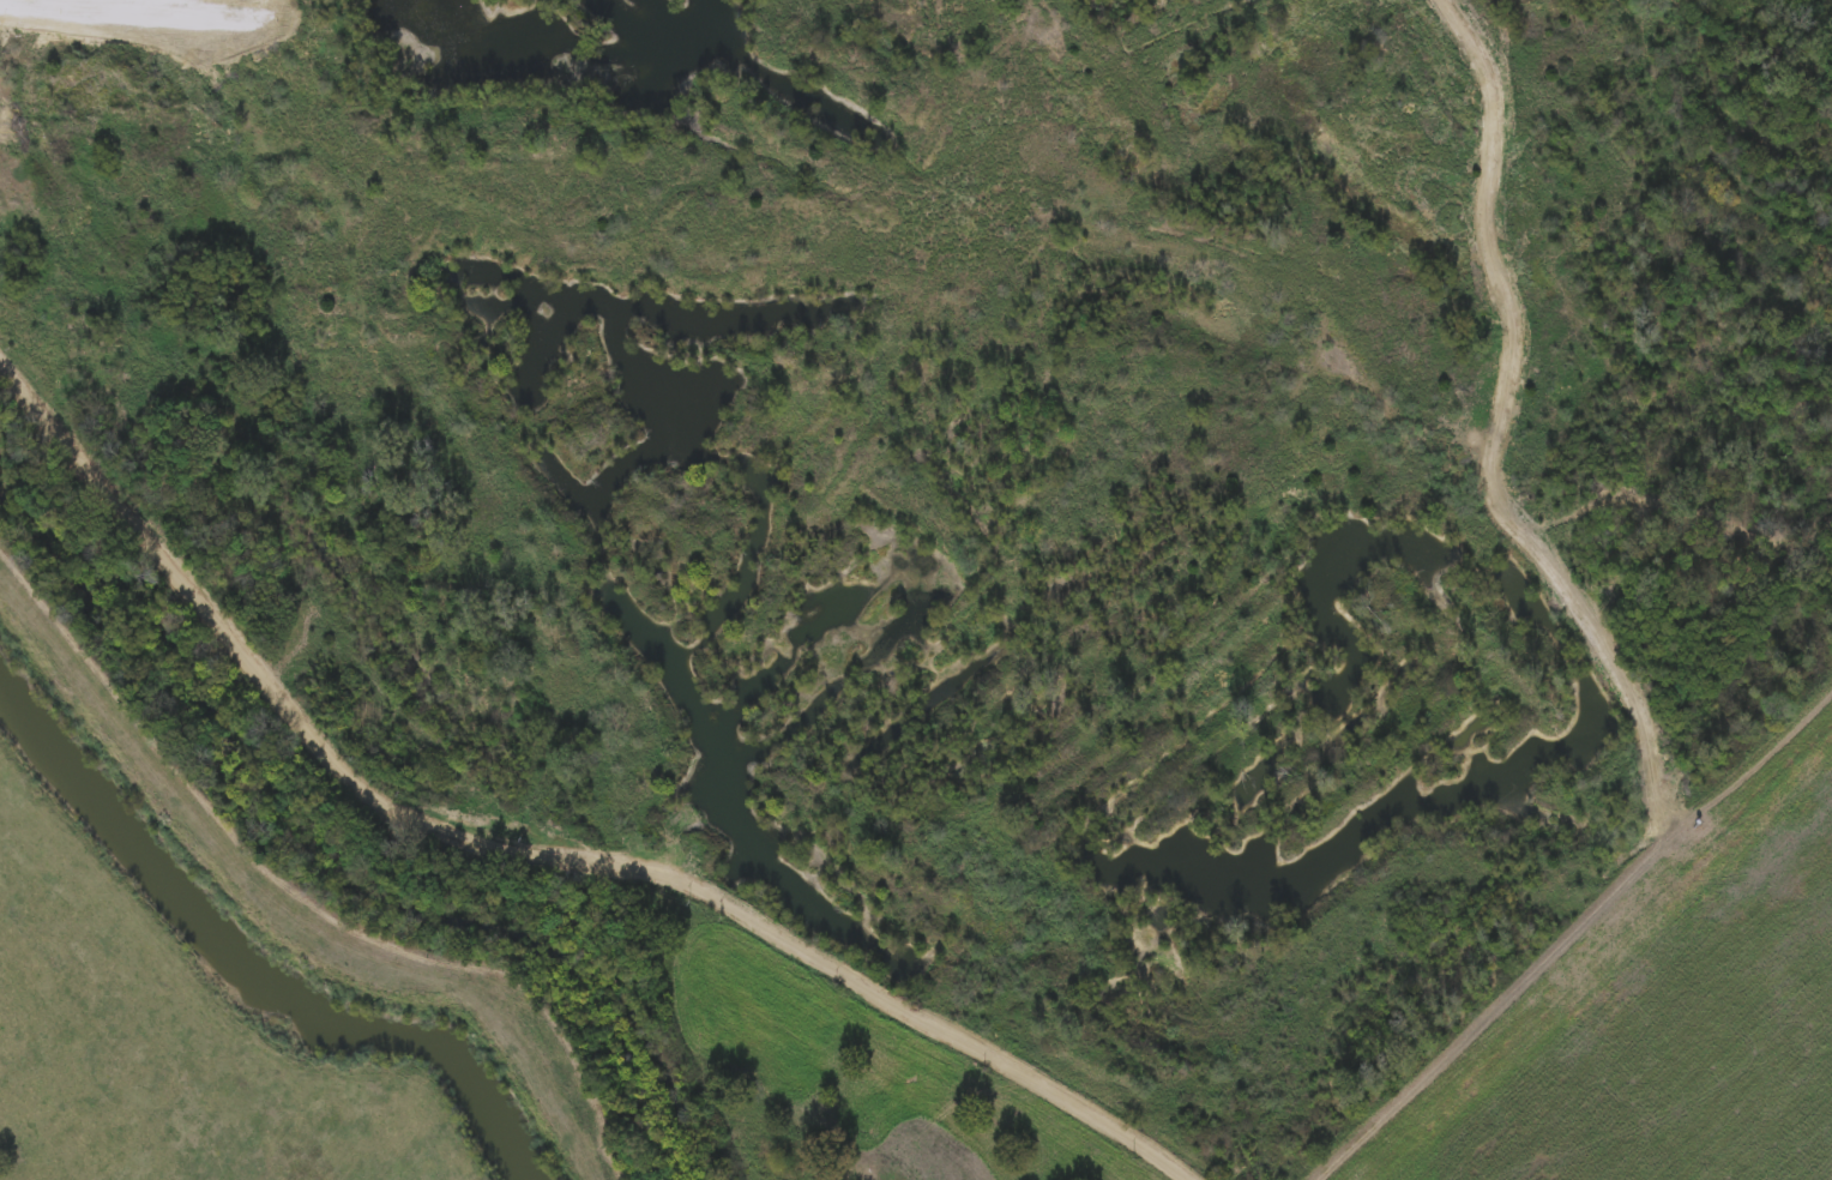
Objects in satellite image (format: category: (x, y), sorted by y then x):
road: (415, 818)
road: (1101, 1109)

